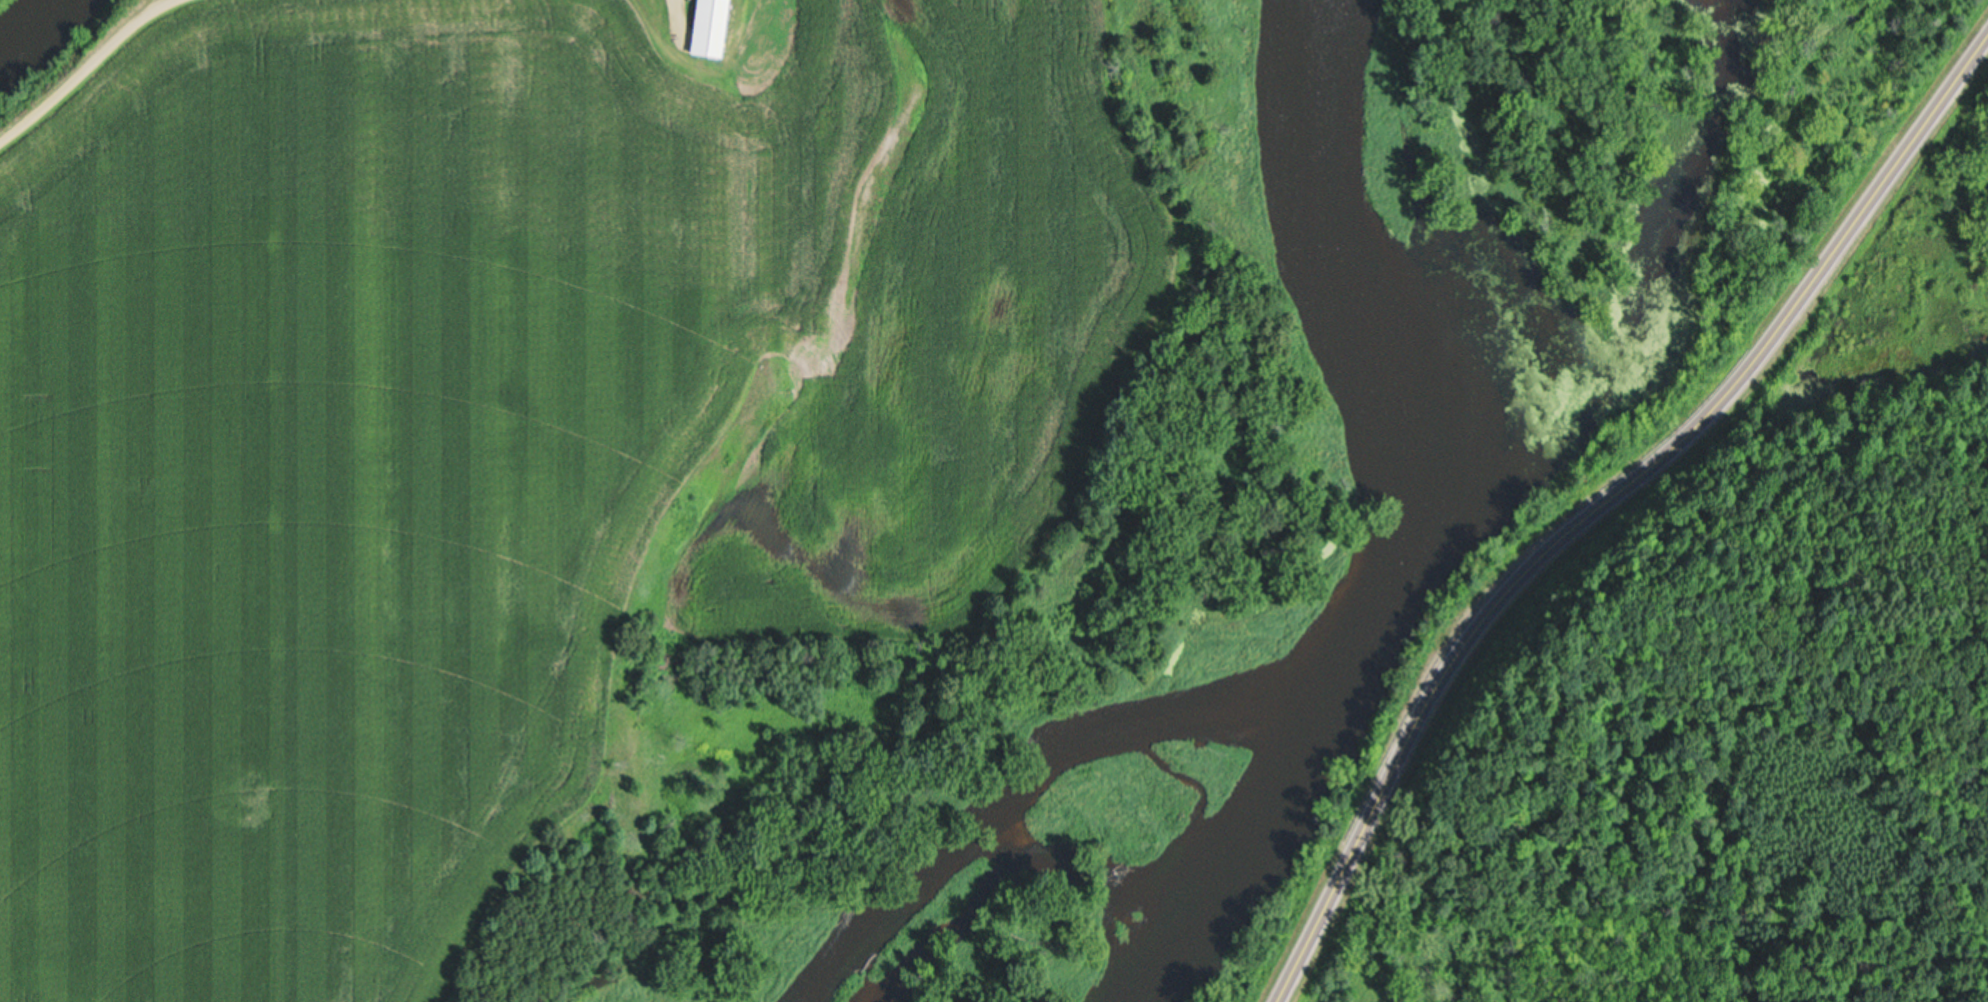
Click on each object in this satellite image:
river: (28, 16)
building: (716, 26)
road: (86, 72)
crop: (501, 429)
road: (1595, 493)
river: (1405, 524)

